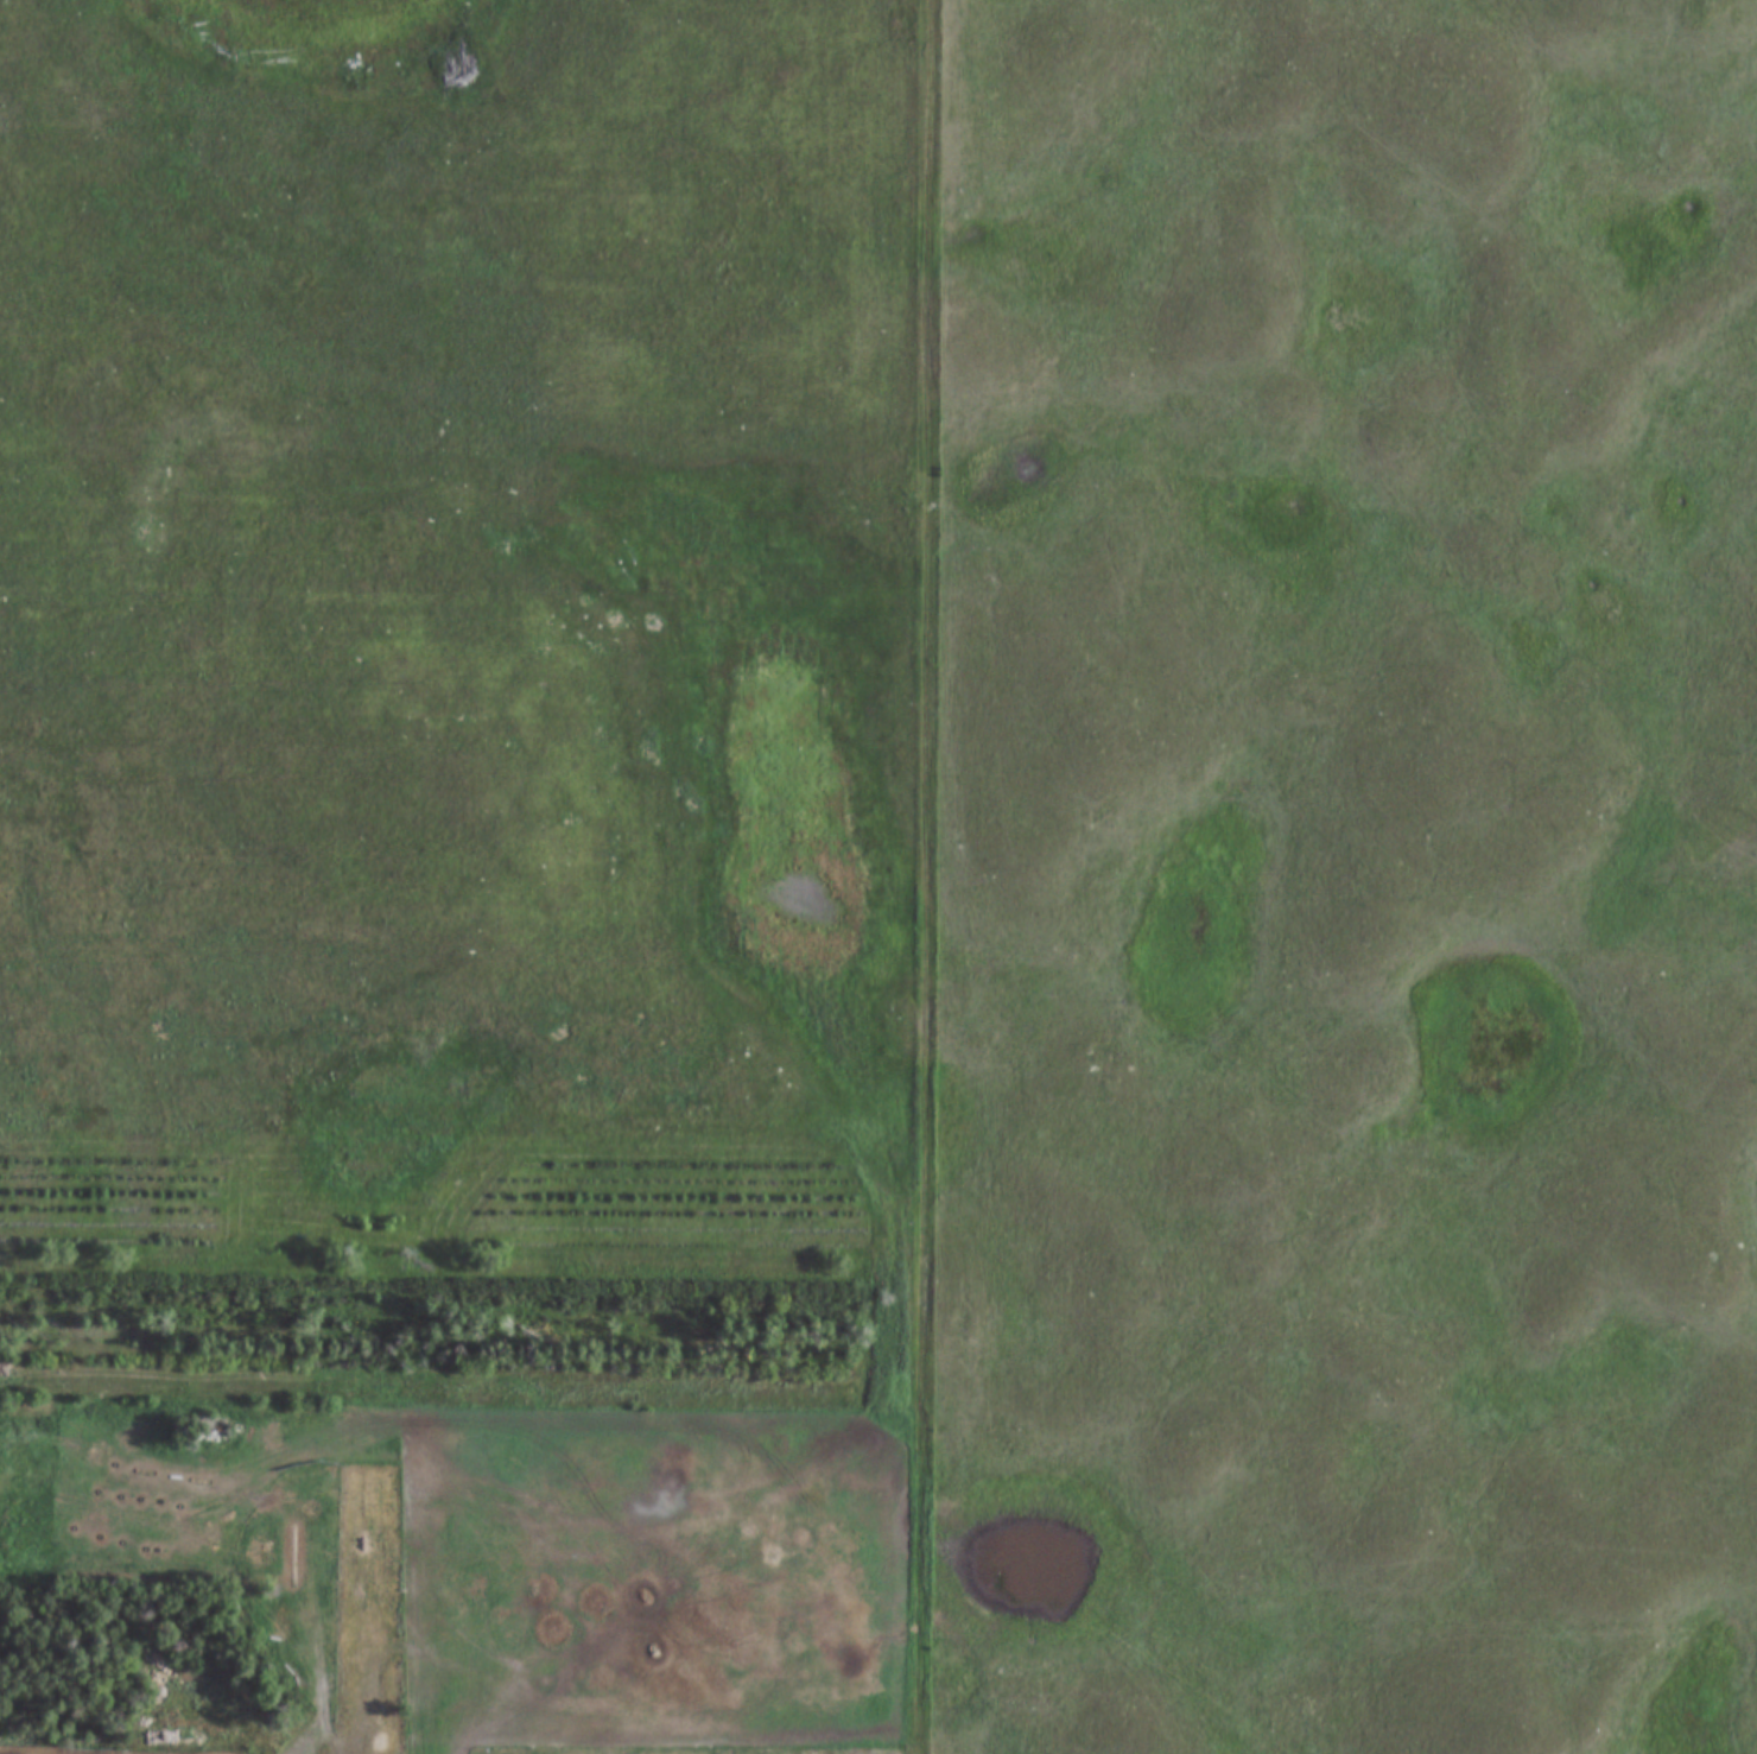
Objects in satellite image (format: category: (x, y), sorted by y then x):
road: (928, 876)

